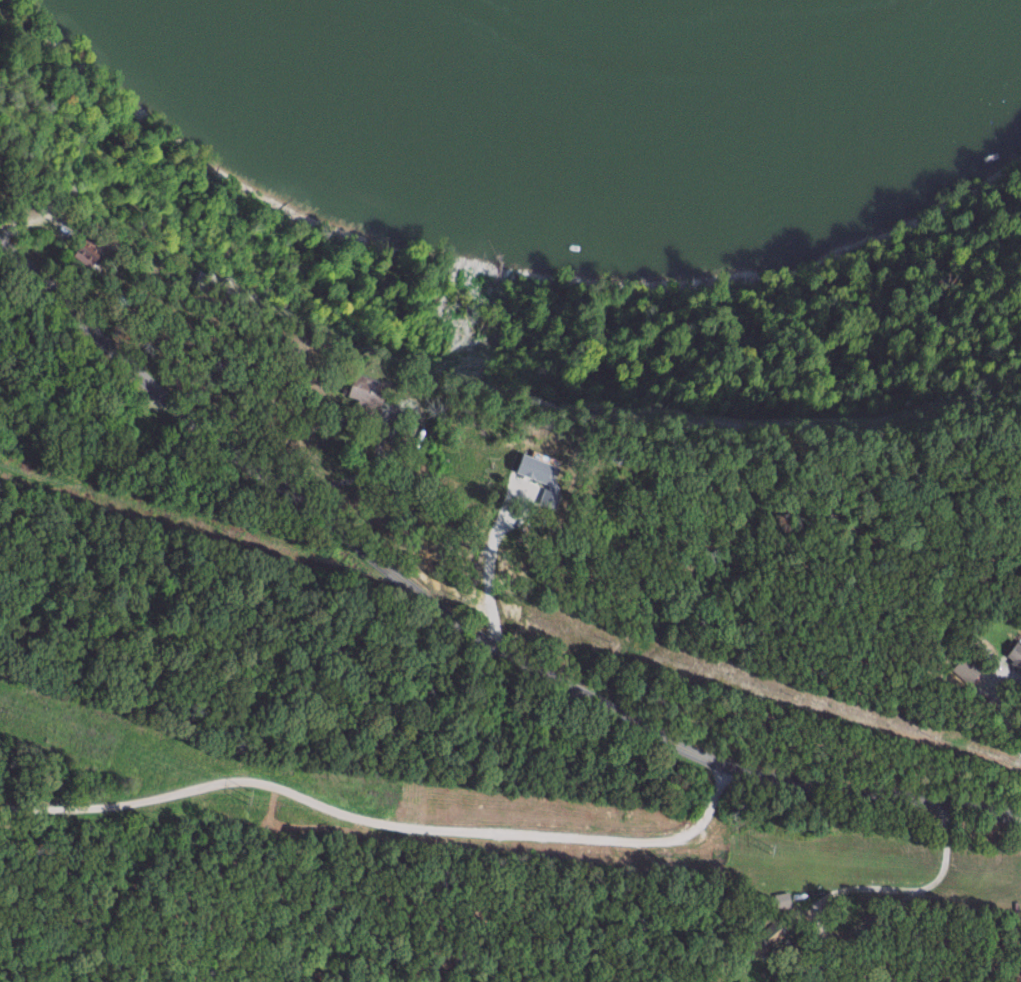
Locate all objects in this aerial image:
building: (367, 388)
road: (358, 464)
building: (542, 472)
road: (462, 626)
road: (1019, 679)
power tower: (255, 798)
road: (381, 824)
power tower: (773, 848)
road: (921, 886)

